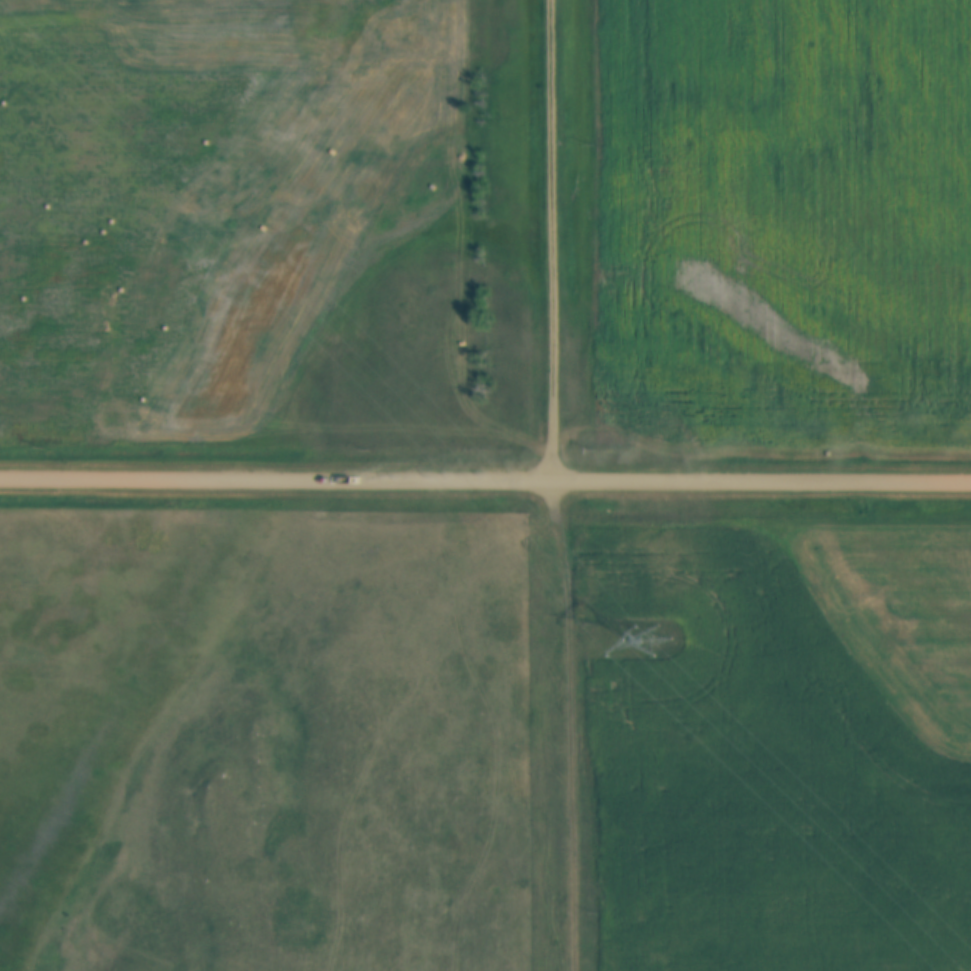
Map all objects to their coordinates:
road: (549, 239)
road: (485, 478)
power tower: (657, 638)
road: (558, 724)

